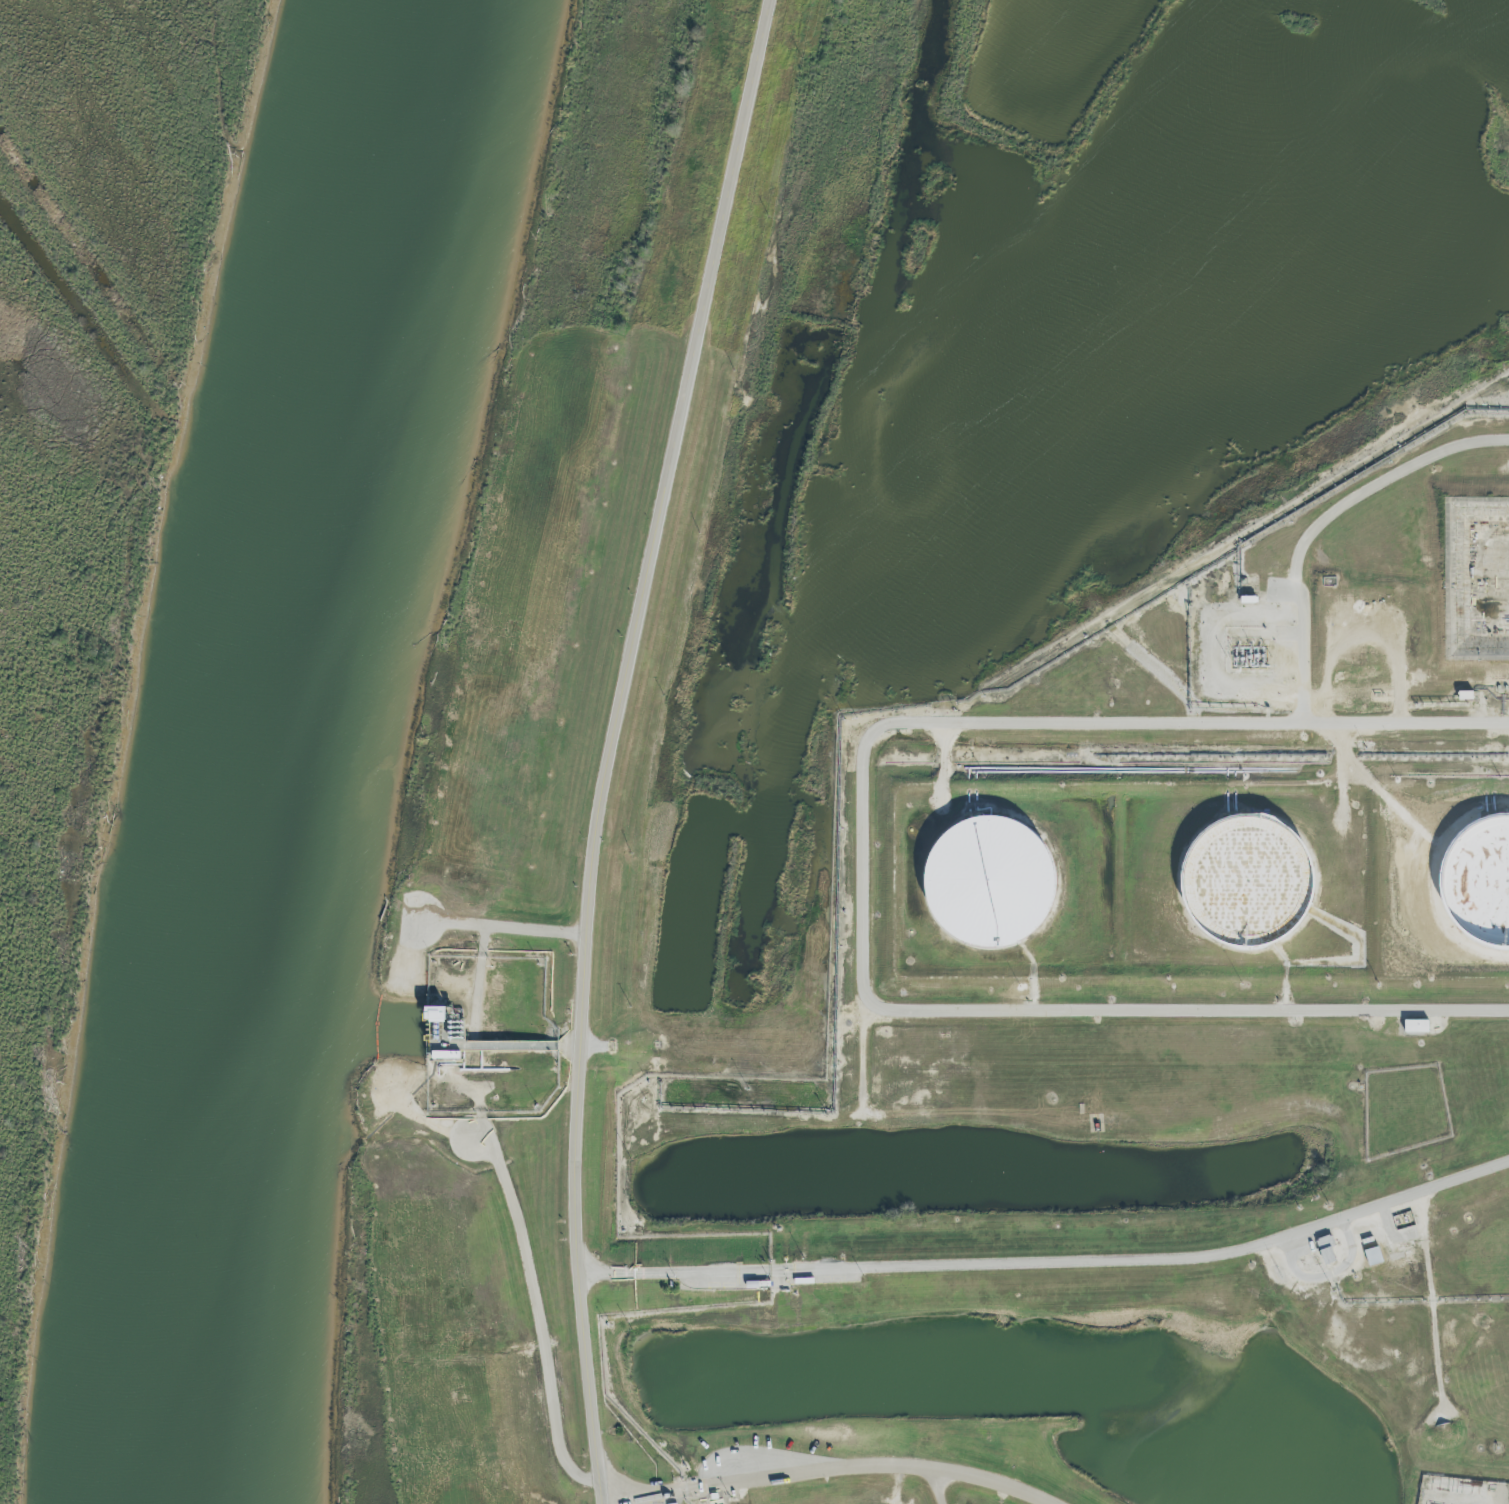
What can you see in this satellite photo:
road: (1324, 525)
building: (1475, 575)
road: (644, 632)
river: (288, 746)
building: (1478, 878)
storage tank: (1478, 878)
road: (866, 880)
building: (1243, 881)
storage tank: (1243, 881)
building: (985, 883)
storage tank: (985, 883)
building: (432, 1013)
building: (1326, 1251)
building: (1372, 1258)
road: (527, 1265)
road: (1053, 1270)
road: (590, 1389)
road: (835, 1473)
road: (1504, 1502)

